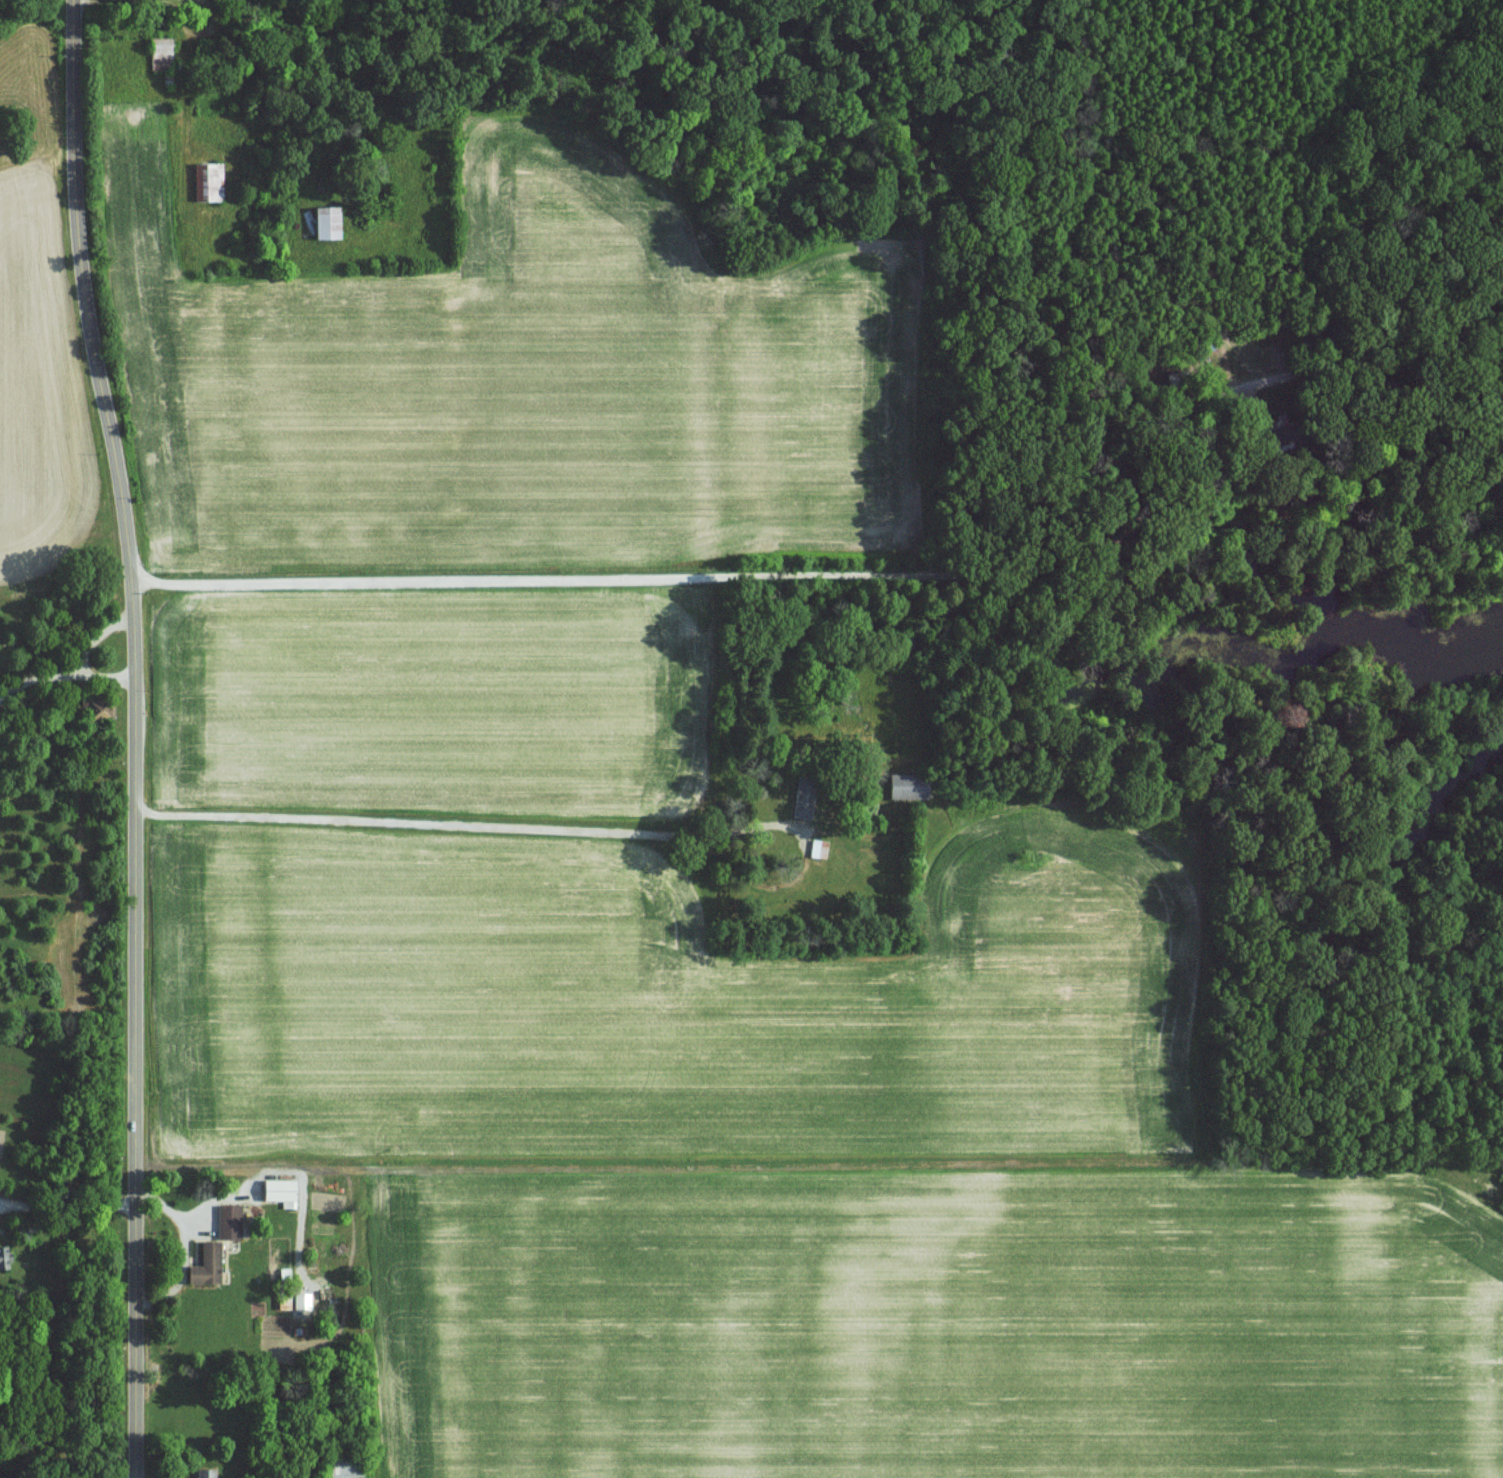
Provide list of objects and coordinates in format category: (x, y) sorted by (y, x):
building: (206, 180)
building: (323, 222)
road: (873, 576)
road: (137, 736)
building: (906, 786)
building: (800, 804)
road: (428, 825)
building: (817, 848)
building: (278, 1190)
road: (1, 1202)
road: (1, 1203)
road: (70, 1205)
building: (227, 1220)
building: (3, 1256)
building: (204, 1263)
building: (300, 1299)
building: (203, 1472)

